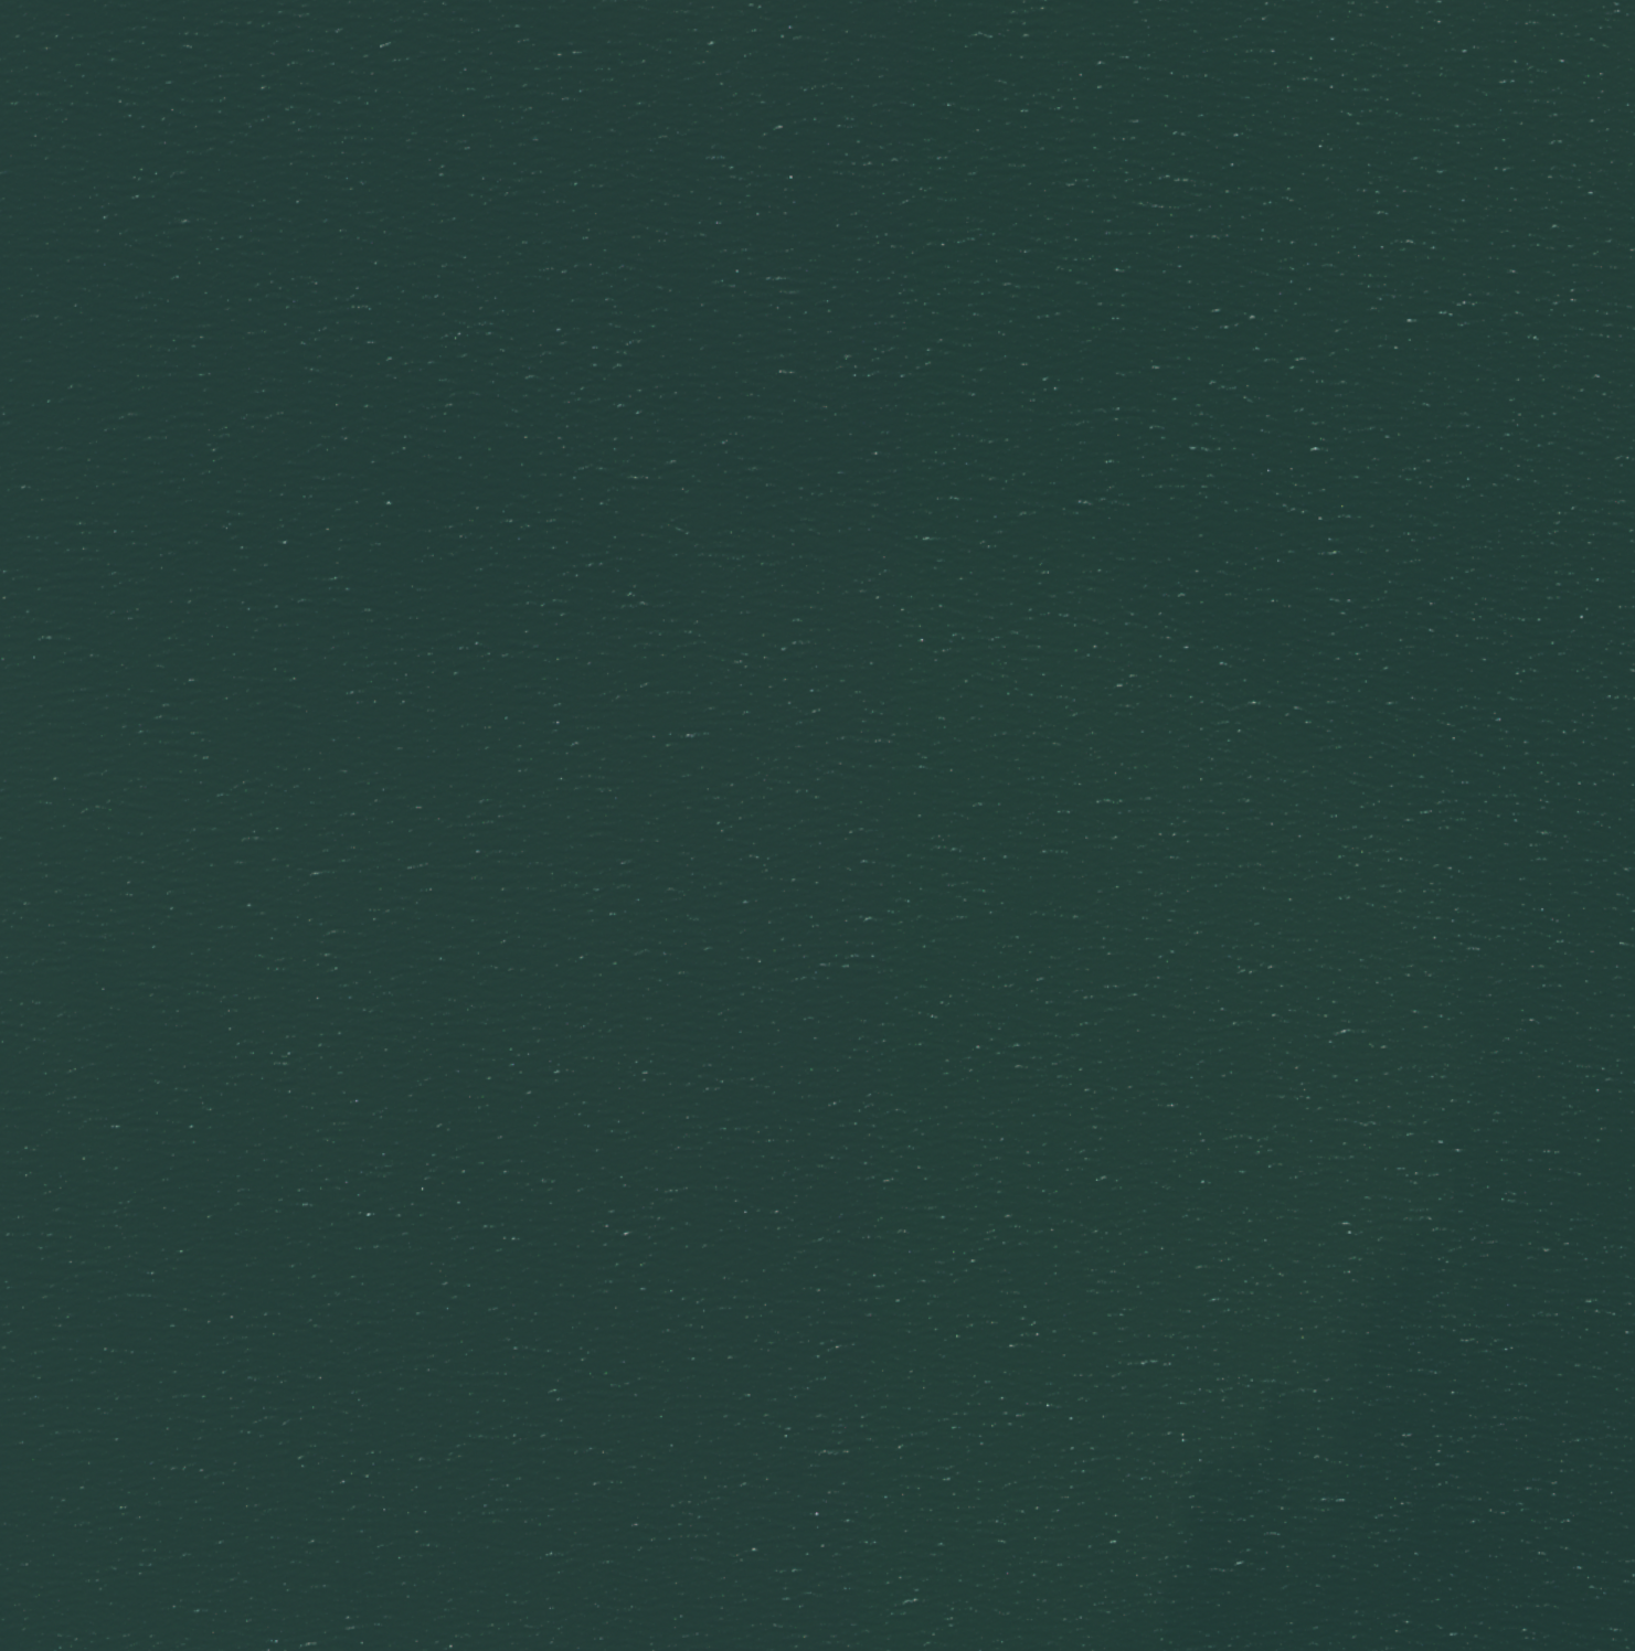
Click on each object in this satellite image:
river: (817, 1248)

